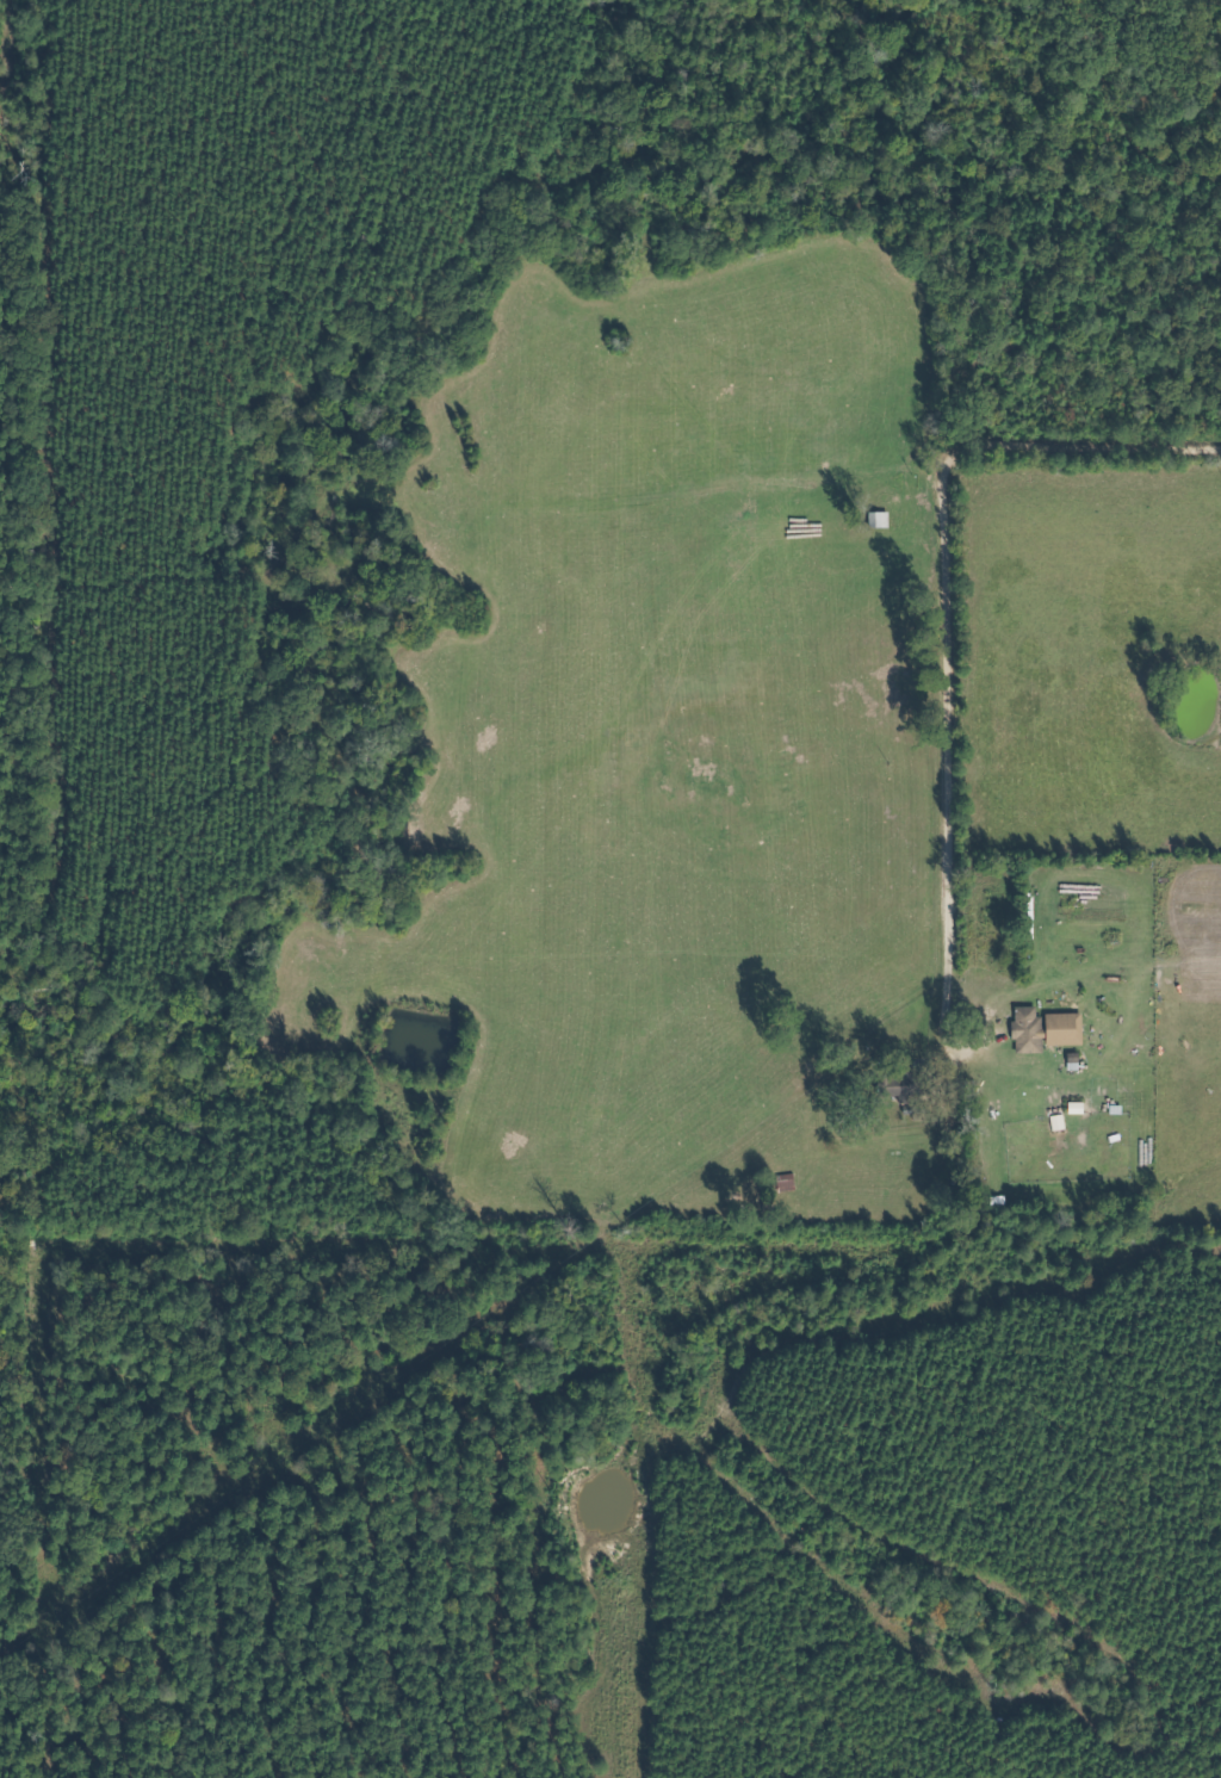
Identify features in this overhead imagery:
building: (881, 520)
road: (946, 606)
building: (1048, 1029)
building: (904, 1085)
building: (1079, 1108)
building: (1061, 1122)

